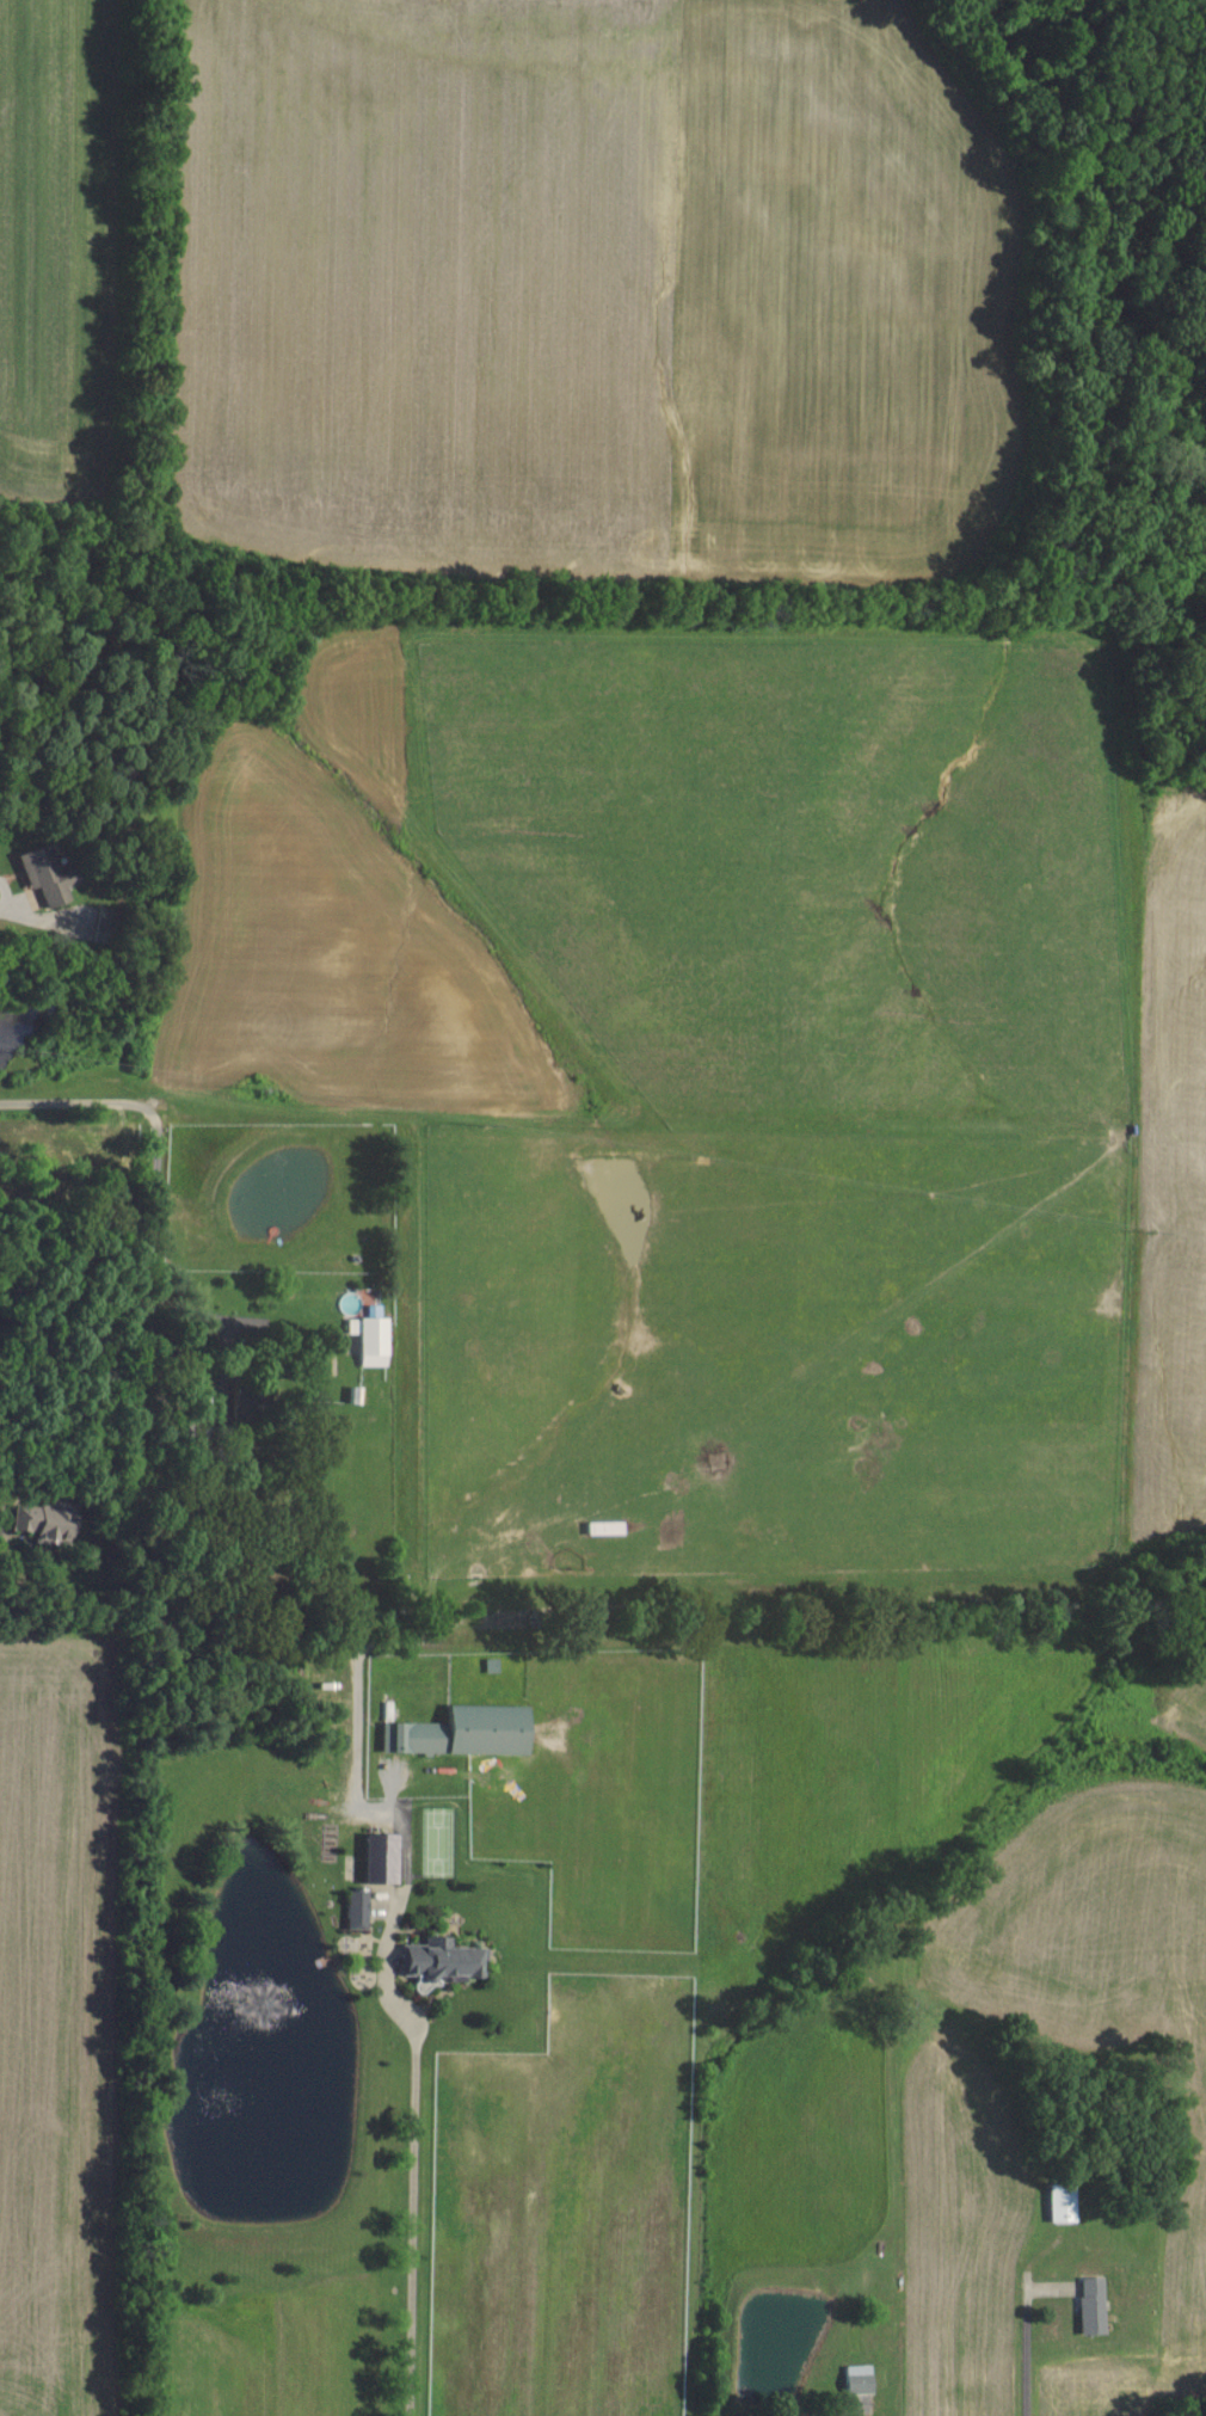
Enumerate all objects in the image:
building: (50, 875)
road: (36, 917)
road: (148, 1127)
building: (376, 1336)
building: (51, 1526)
road: (1, 1541)
building: (470, 1732)
building: (387, 1858)
building: (362, 1910)
building: (450, 1961)
road: (411, 2154)
building: (1090, 2305)
road: (1023, 2350)
building: (857, 2379)
road: (857, 2415)

